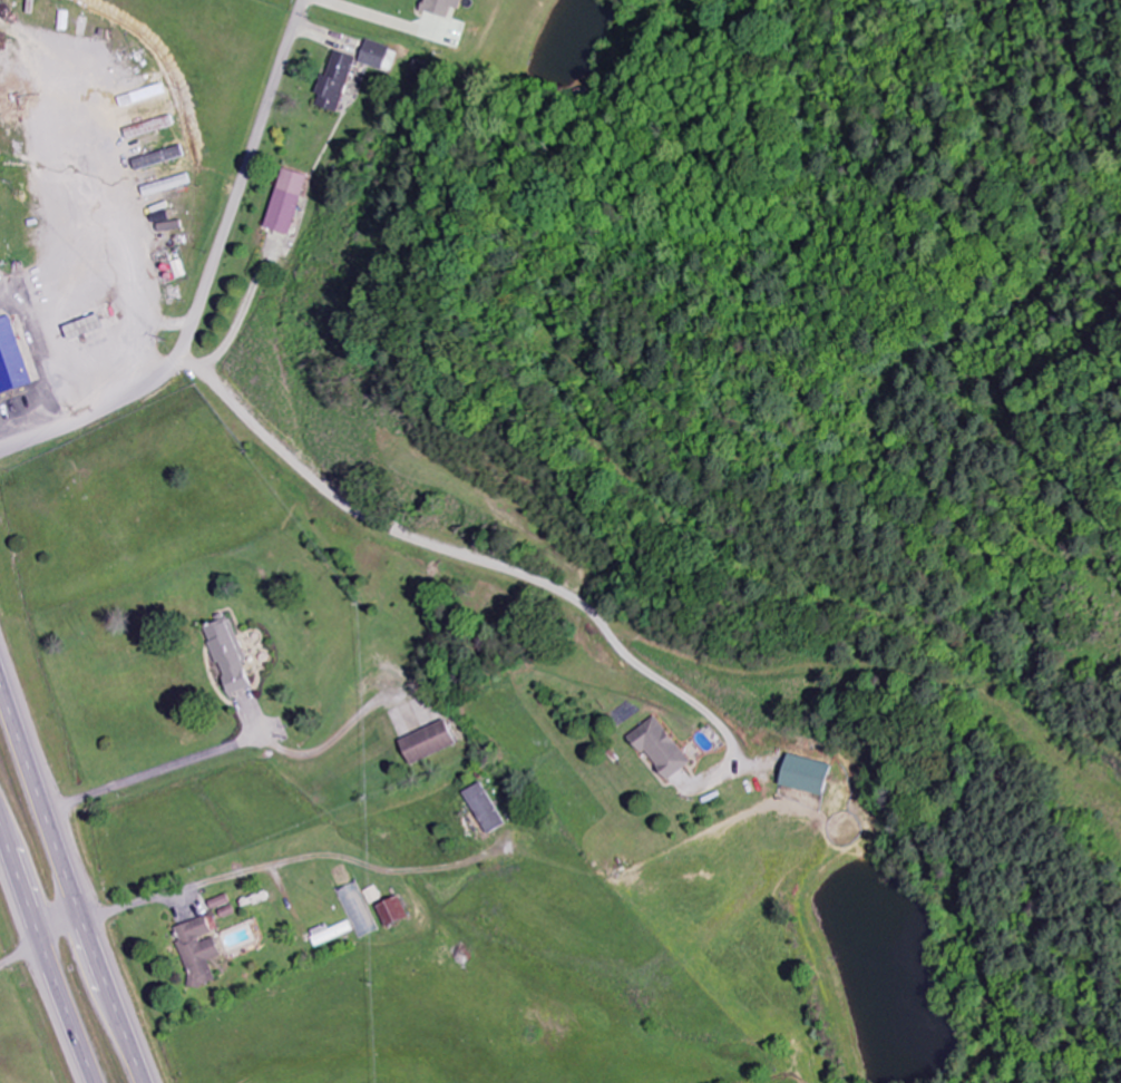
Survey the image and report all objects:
building: (440, 7)
building: (69, 21)
building: (373, 55)
building: (333, 82)
building: (147, 96)
building: (152, 127)
building: (162, 159)
building: (170, 186)
building: (284, 203)
road: (211, 275)
building: (16, 357)
building: (230, 656)
building: (427, 744)
building: (657, 749)
building: (802, 775)
building: (484, 811)
road: (308, 858)
road: (71, 876)
building: (398, 914)
building: (352, 918)
road: (62, 927)
building: (203, 950)
road: (45, 955)

